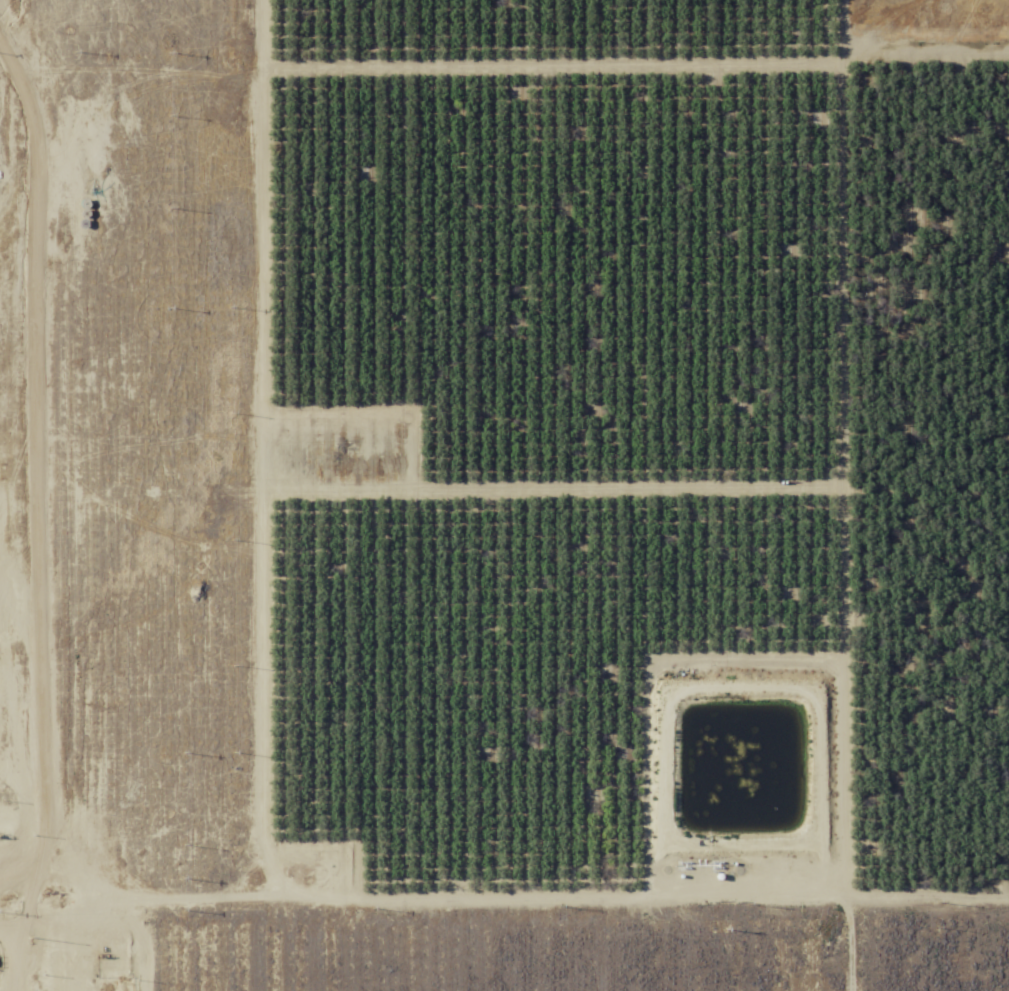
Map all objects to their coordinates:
road: (860, 955)

